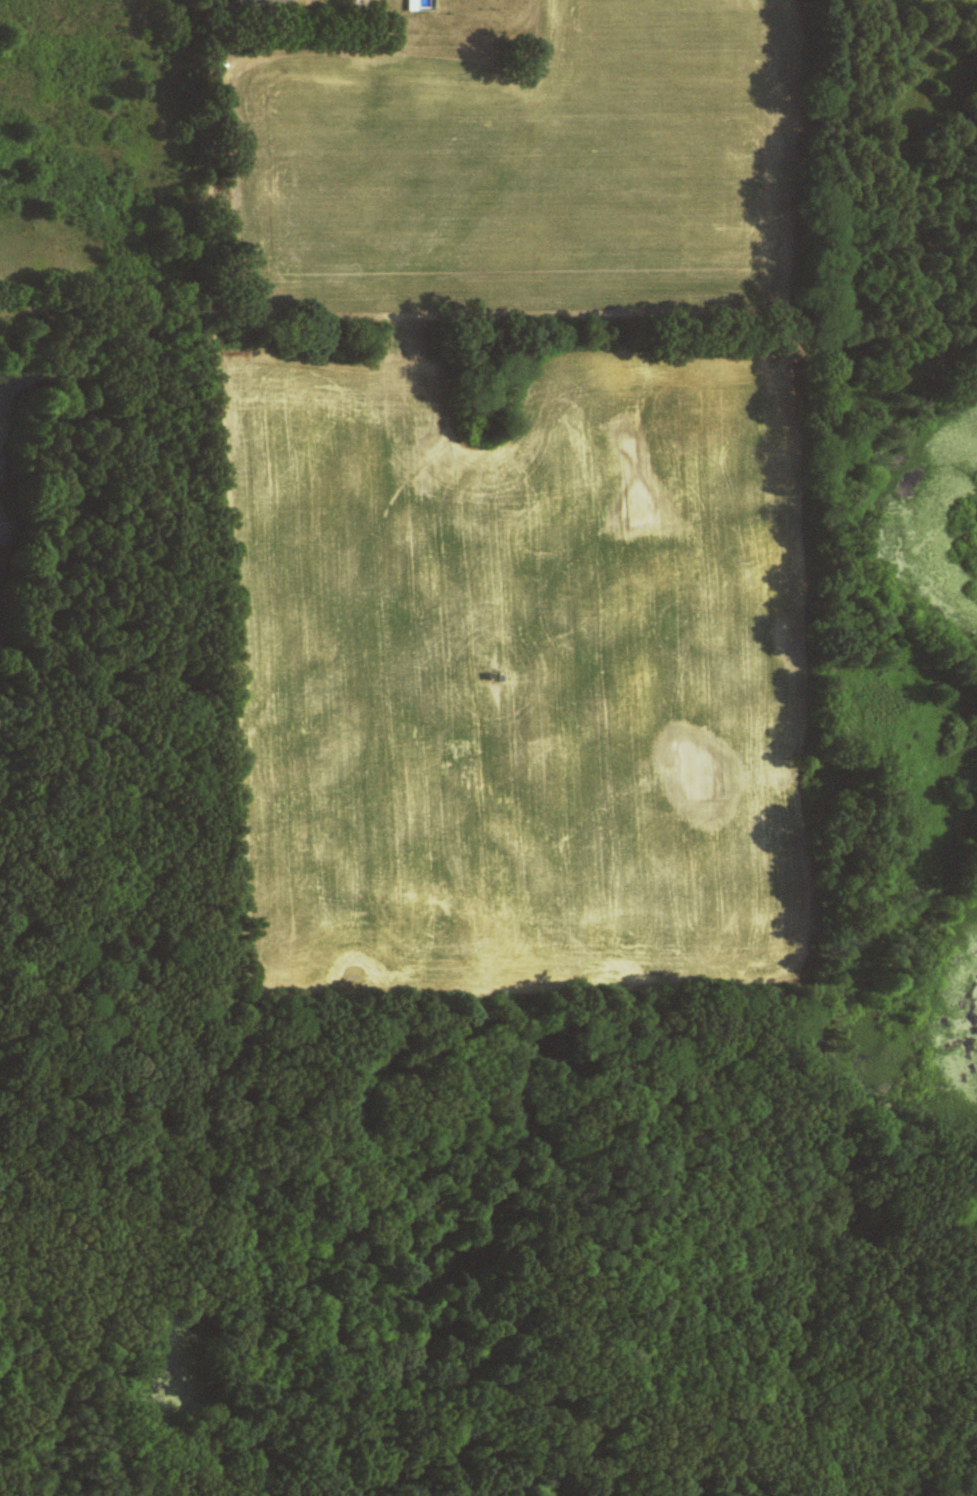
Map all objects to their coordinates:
building: (262, 2)

